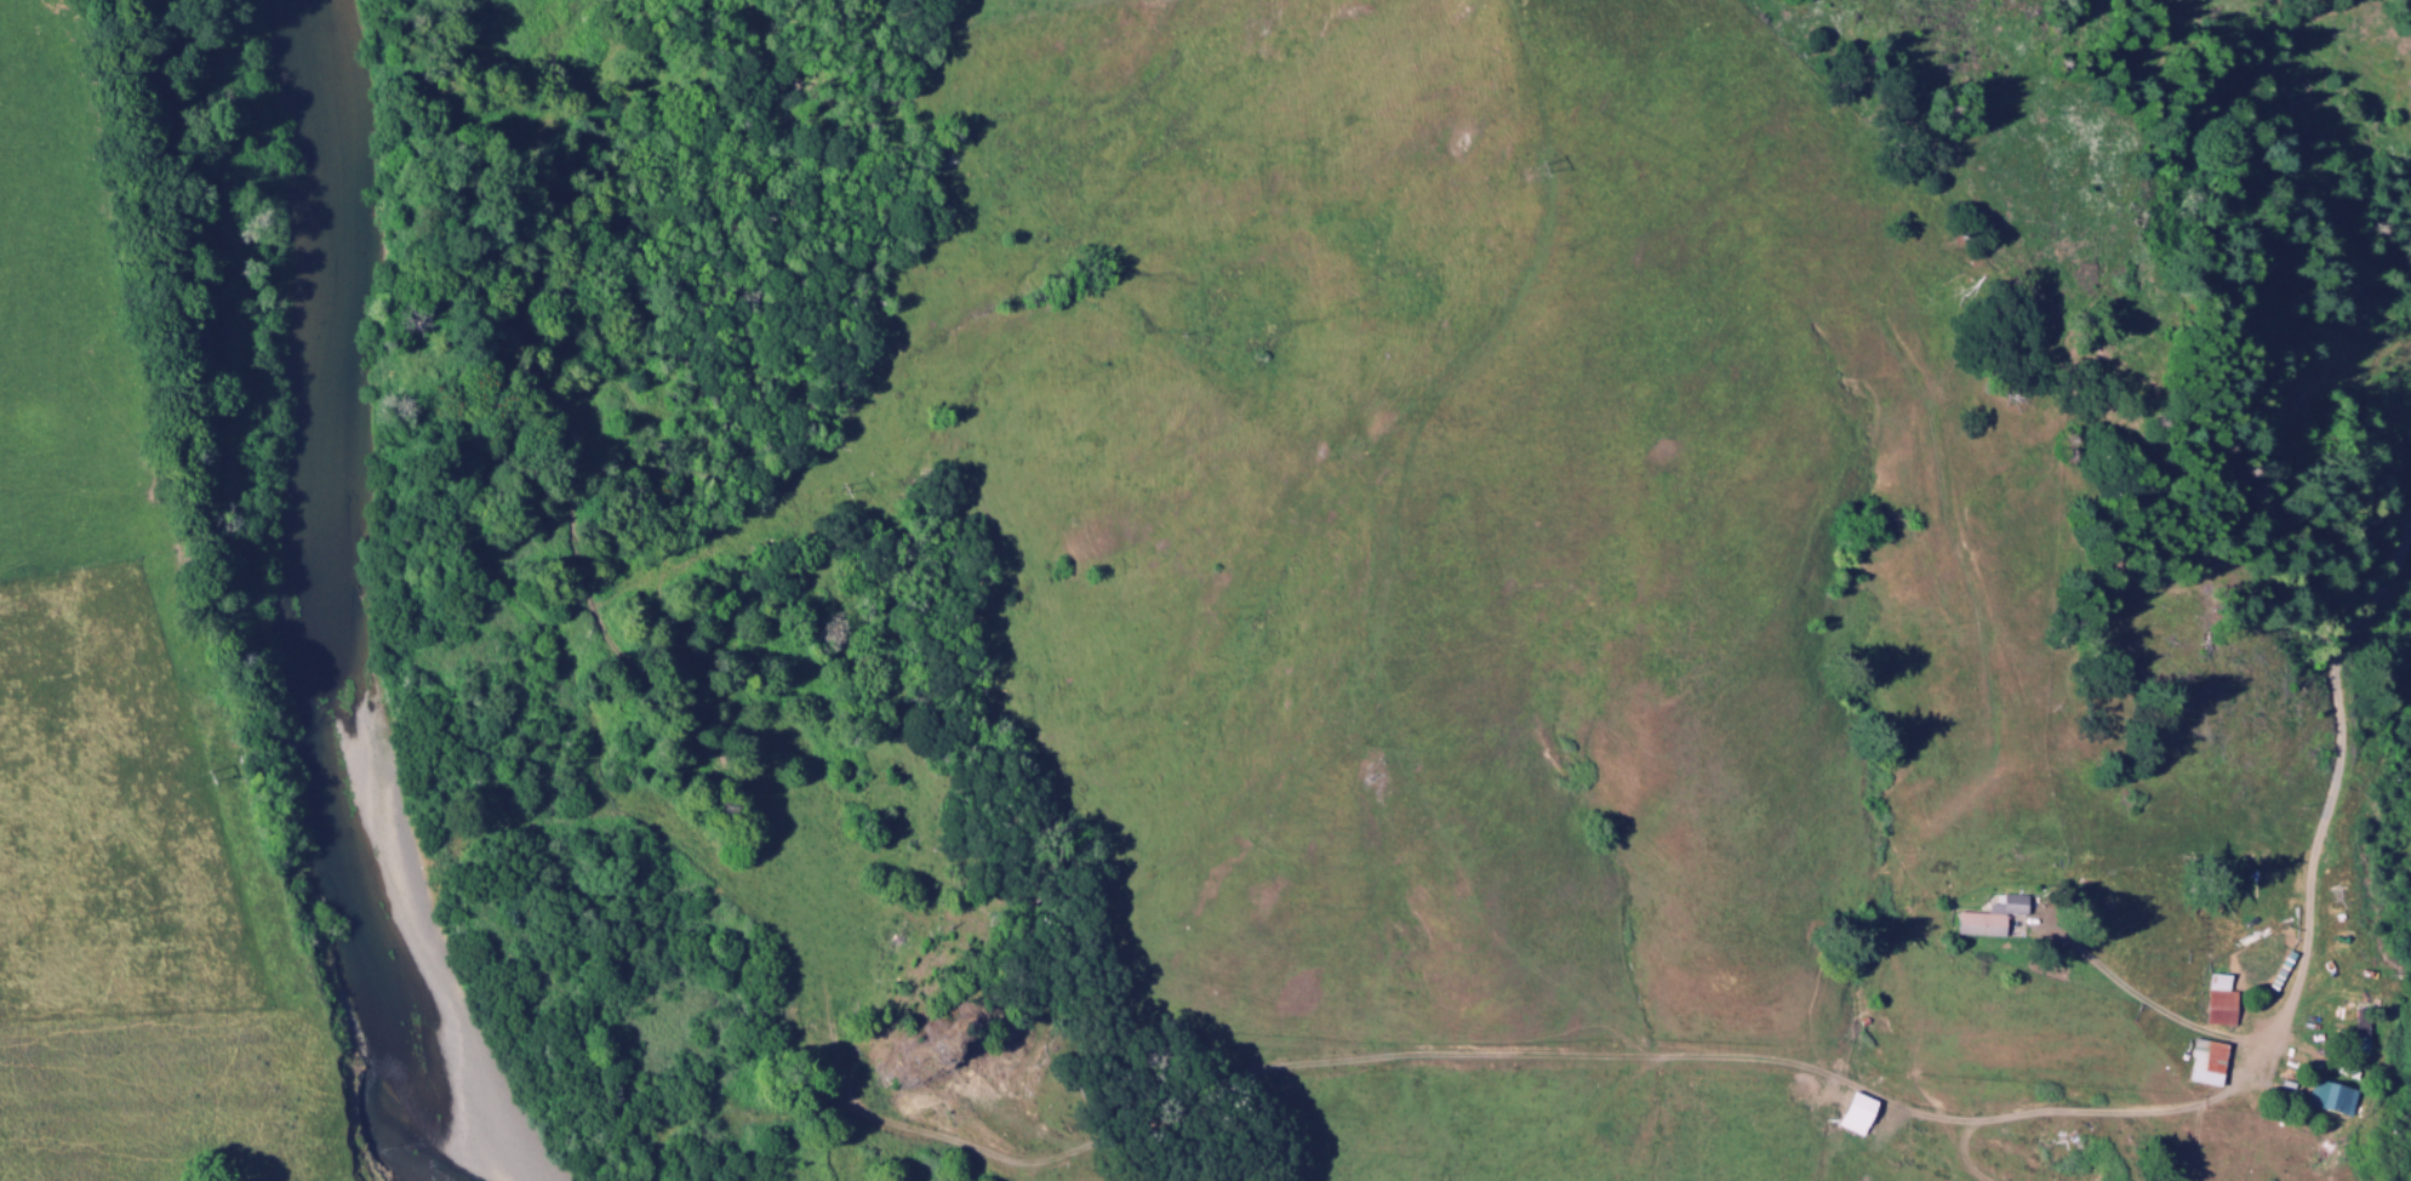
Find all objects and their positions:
river: (312, 607)
road: (2330, 792)
building: (1992, 920)
building: (2217, 1002)
building: (2360, 1029)
building: (2203, 1063)
building: (2333, 1101)

